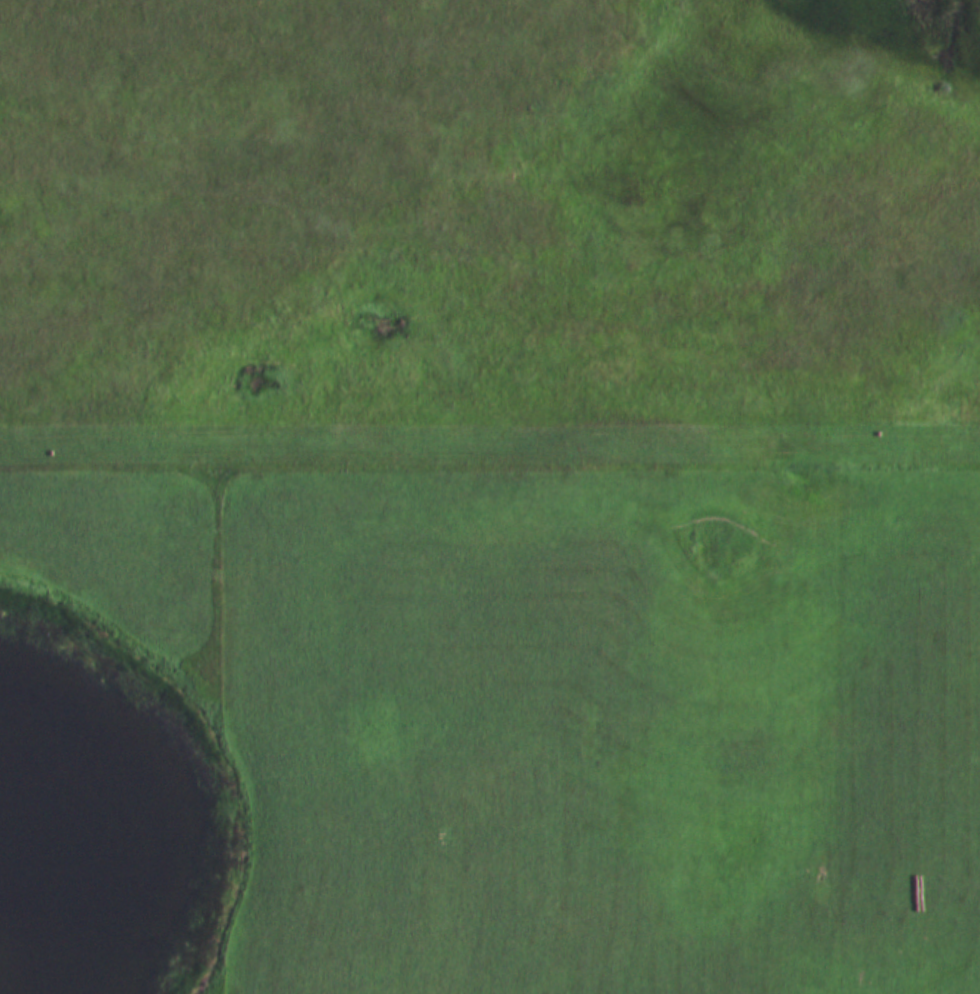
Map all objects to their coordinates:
road: (490, 443)

